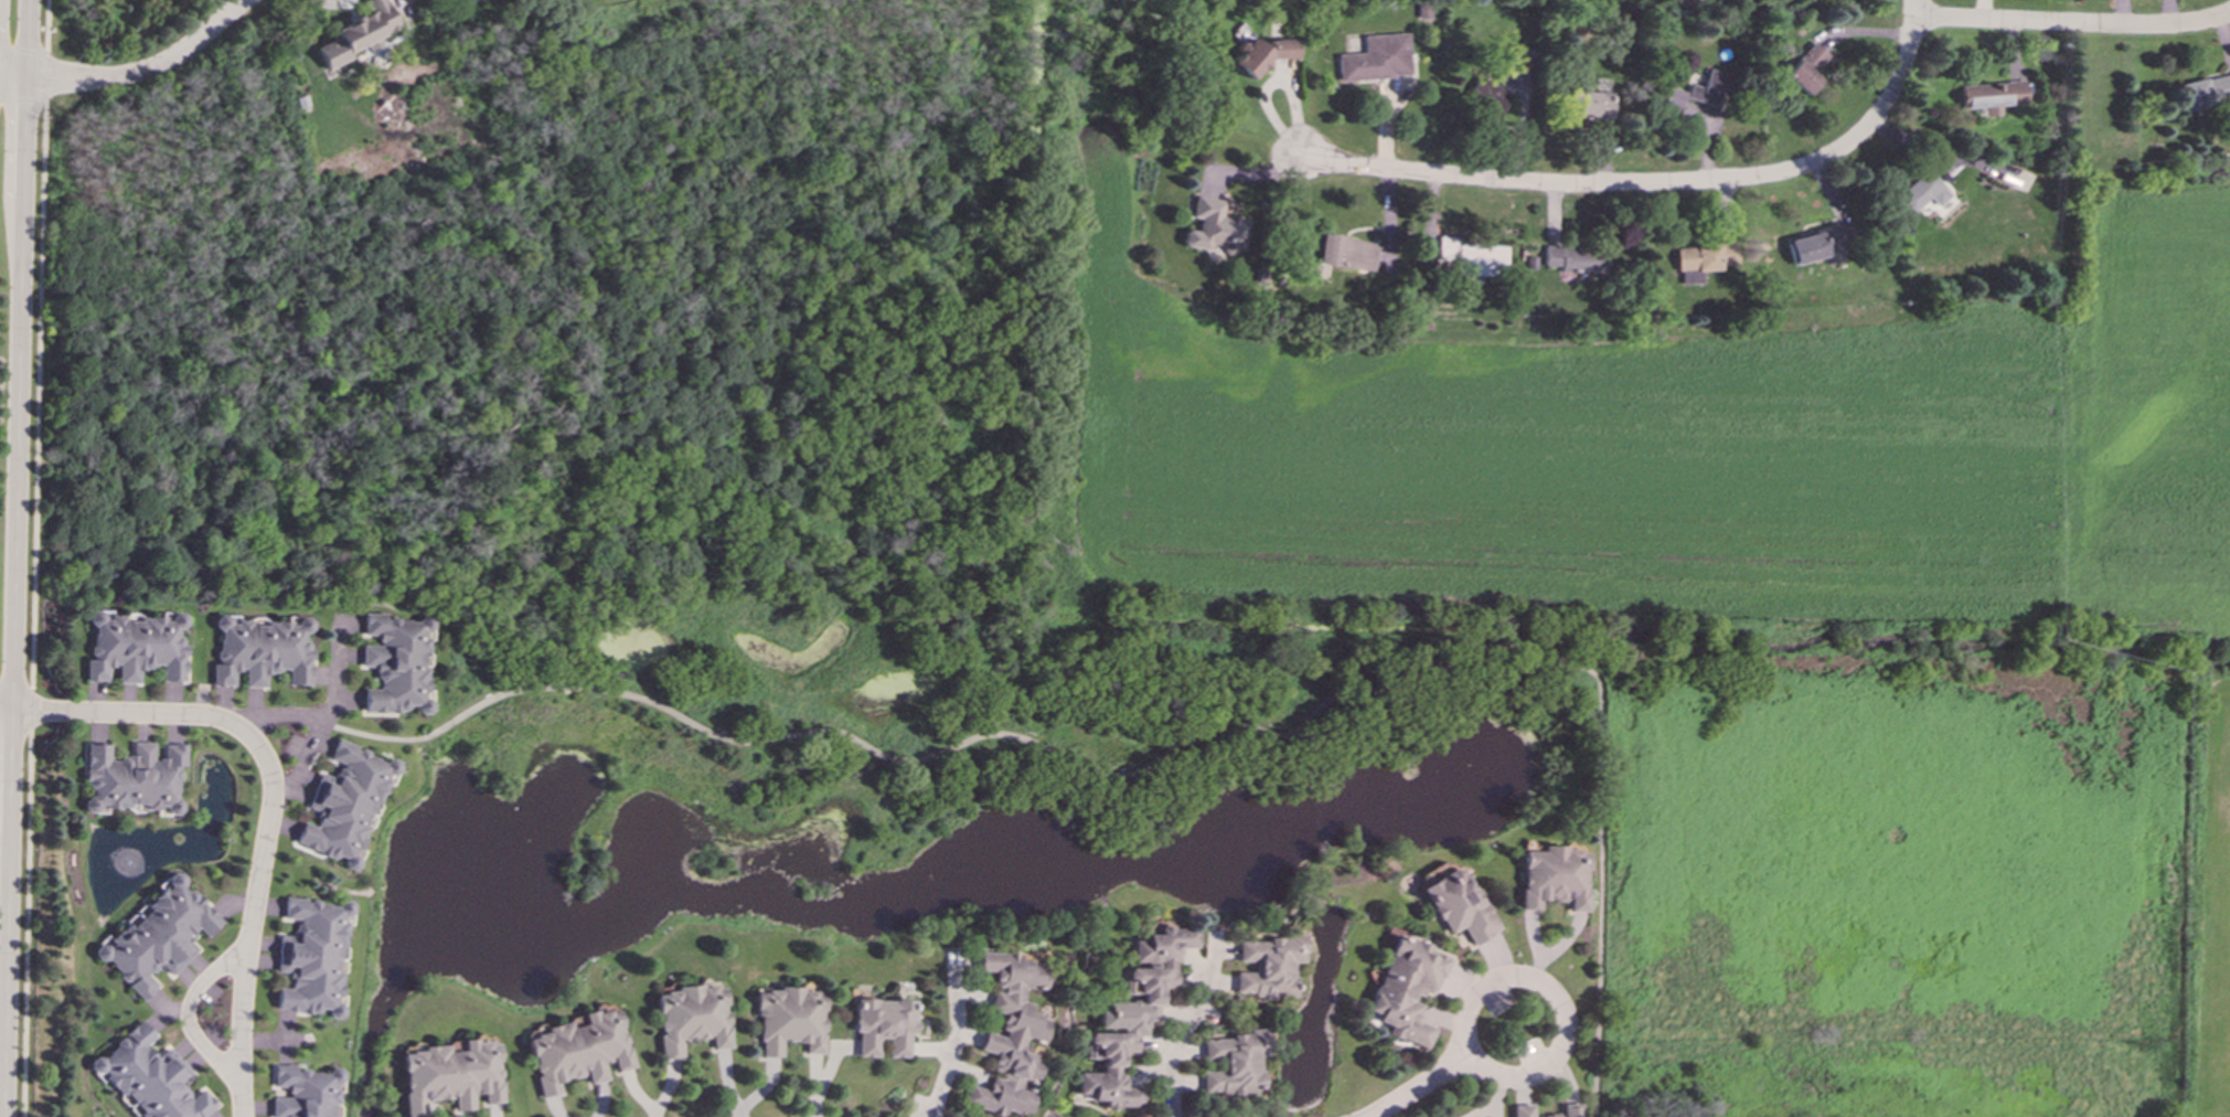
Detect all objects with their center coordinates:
road: (2071, 24)
road: (45, 26)
building: (358, 32)
road: (22, 51)
building: (1260, 51)
building: (1377, 57)
building: (1804, 67)
building: (1508, 72)
road: (139, 74)
road: (45, 77)
road: (3, 78)
building: (2205, 89)
building: (1698, 91)
building: (1988, 95)
road: (22, 99)
building: (1588, 105)
road: (1656, 183)
building: (1917, 192)
building: (1214, 226)
building: (1811, 244)
building: (1346, 253)
building: (1472, 256)
building: (1703, 256)
building: (1575, 257)
road: (39, 394)
road: (15, 558)
crop: (1768, 621)
building: (136, 645)
building: (262, 650)
road: (1527, 651)
building: (396, 663)
road: (333, 666)
road: (32, 709)
road: (15, 711)
road: (138, 712)
road: (278, 715)
road: (303, 757)
road: (921, 757)
building: (132, 777)
building: (344, 804)
road: (1599, 869)
building: (1553, 876)
building: (1457, 903)
road: (250, 918)
road: (26, 923)
building: (156, 935)
building: (311, 956)
building: (1267, 966)
building: (1405, 988)
road: (1558, 1012)
road: (186, 1013)
building: (1130, 1015)
building: (690, 1017)
building: (787, 1020)
building: (881, 1025)
road: (948, 1036)
building: (1009, 1036)
road: (1177, 1038)
building: (577, 1050)
building: (1233, 1063)
building: (450, 1075)
building: (150, 1077)
road: (1, 1083)
road: (1419, 1088)
building: (303, 1092)
building: (1569, 1109)

